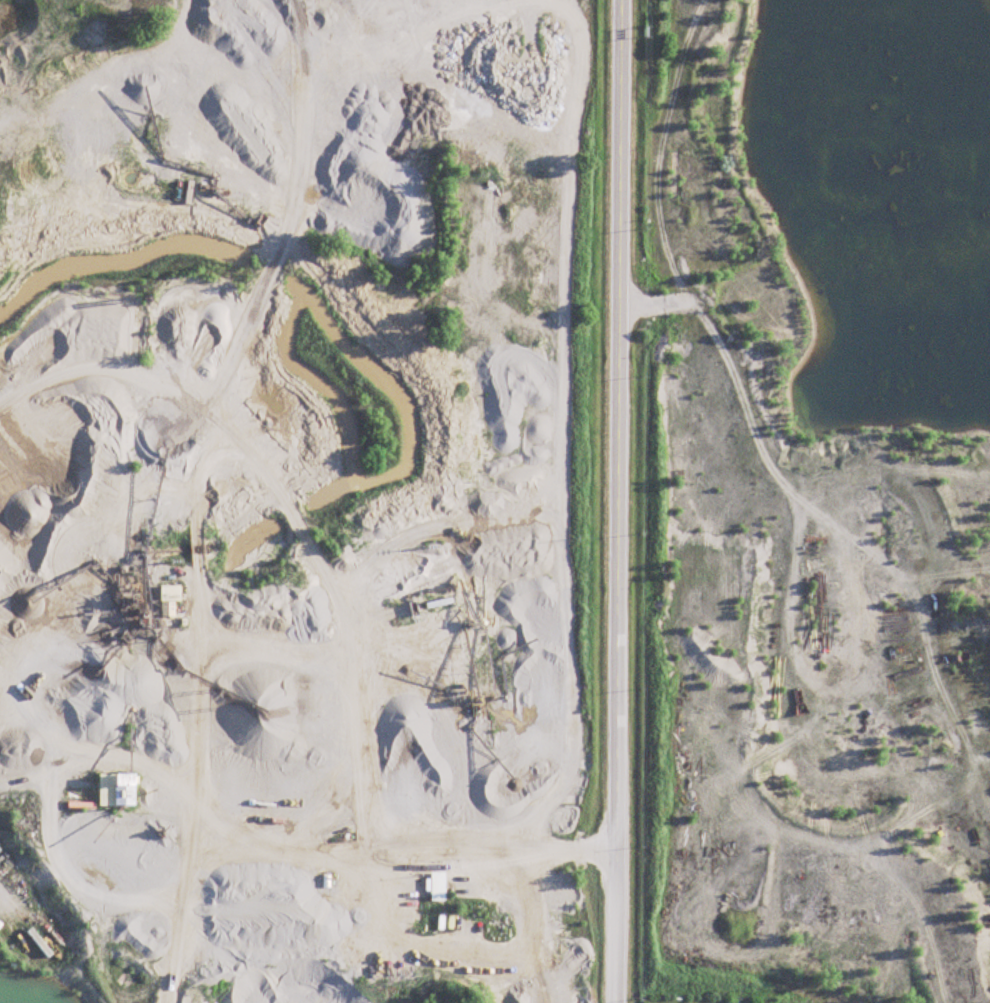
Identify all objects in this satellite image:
road: (618, 501)
building: (171, 600)
building: (118, 788)
road: (537, 844)
road: (192, 849)
building: (438, 886)

